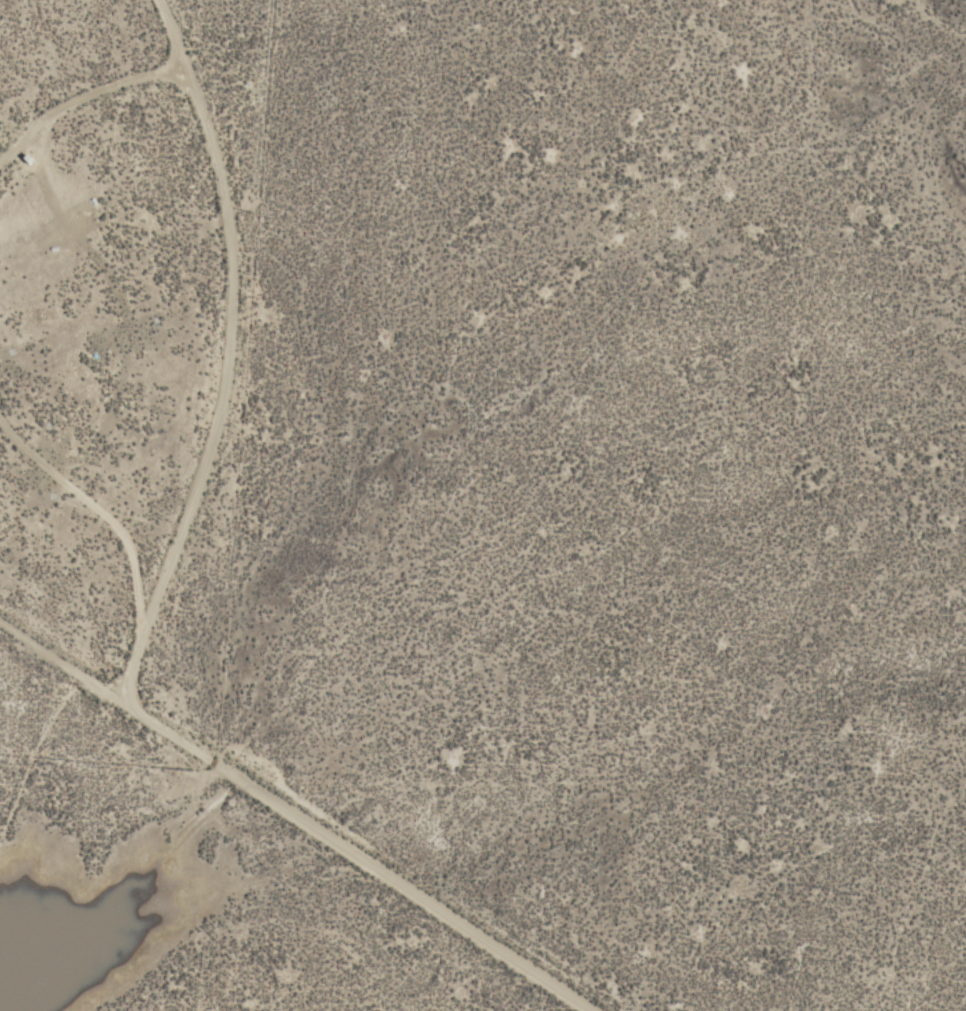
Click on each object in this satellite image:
road: (161, 60)
road: (111, 80)
road: (117, 298)
road: (220, 361)
road: (120, 538)
road: (103, 693)
road: (397, 887)

